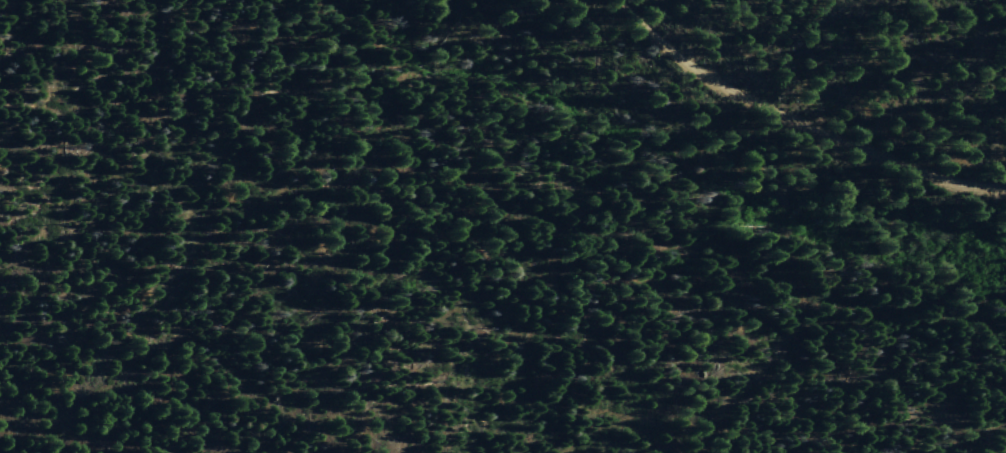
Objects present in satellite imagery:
road: (797, 121)

